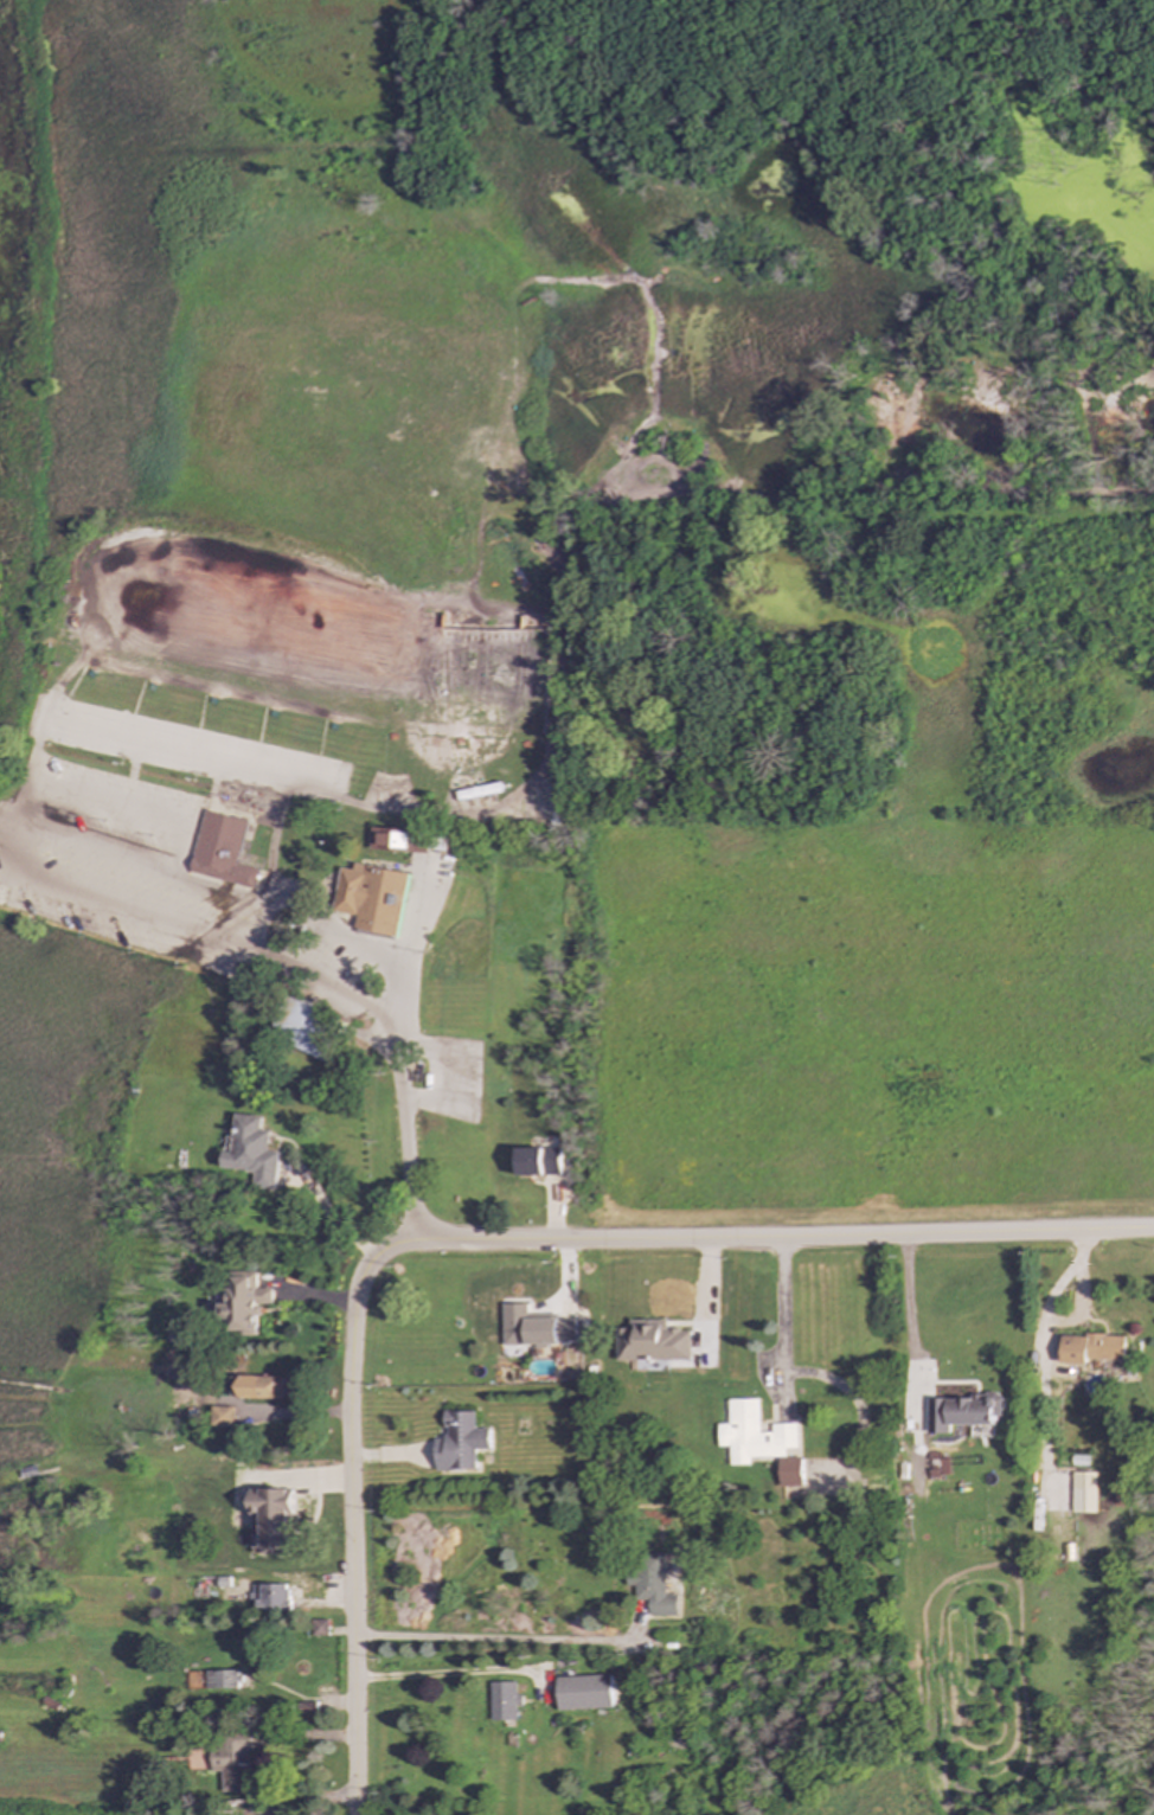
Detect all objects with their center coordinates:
building: (411, 842)
building: (222, 853)
road: (118, 855)
parking lot: (108, 859)
building: (373, 899)
road: (297, 975)
building: (310, 1031)
road: (403, 1128)
building: (254, 1153)
building: (540, 1162)
road: (481, 1240)
building: (248, 1306)
road: (782, 1321)
road: (911, 1330)
building: (553, 1333)
building: (658, 1345)
building: (1097, 1351)
building: (263, 1388)
building: (964, 1413)
building: (224, 1418)
building: (758, 1436)
building: (463, 1443)
building: (795, 1475)
building: (1086, 1494)
building: (277, 1519)
building: (656, 1585)
building: (273, 1598)
road: (507, 1640)
road: (447, 1673)
building: (223, 1681)
building: (582, 1693)
building: (505, 1702)
building: (235, 1762)
road: (314, 1800)

